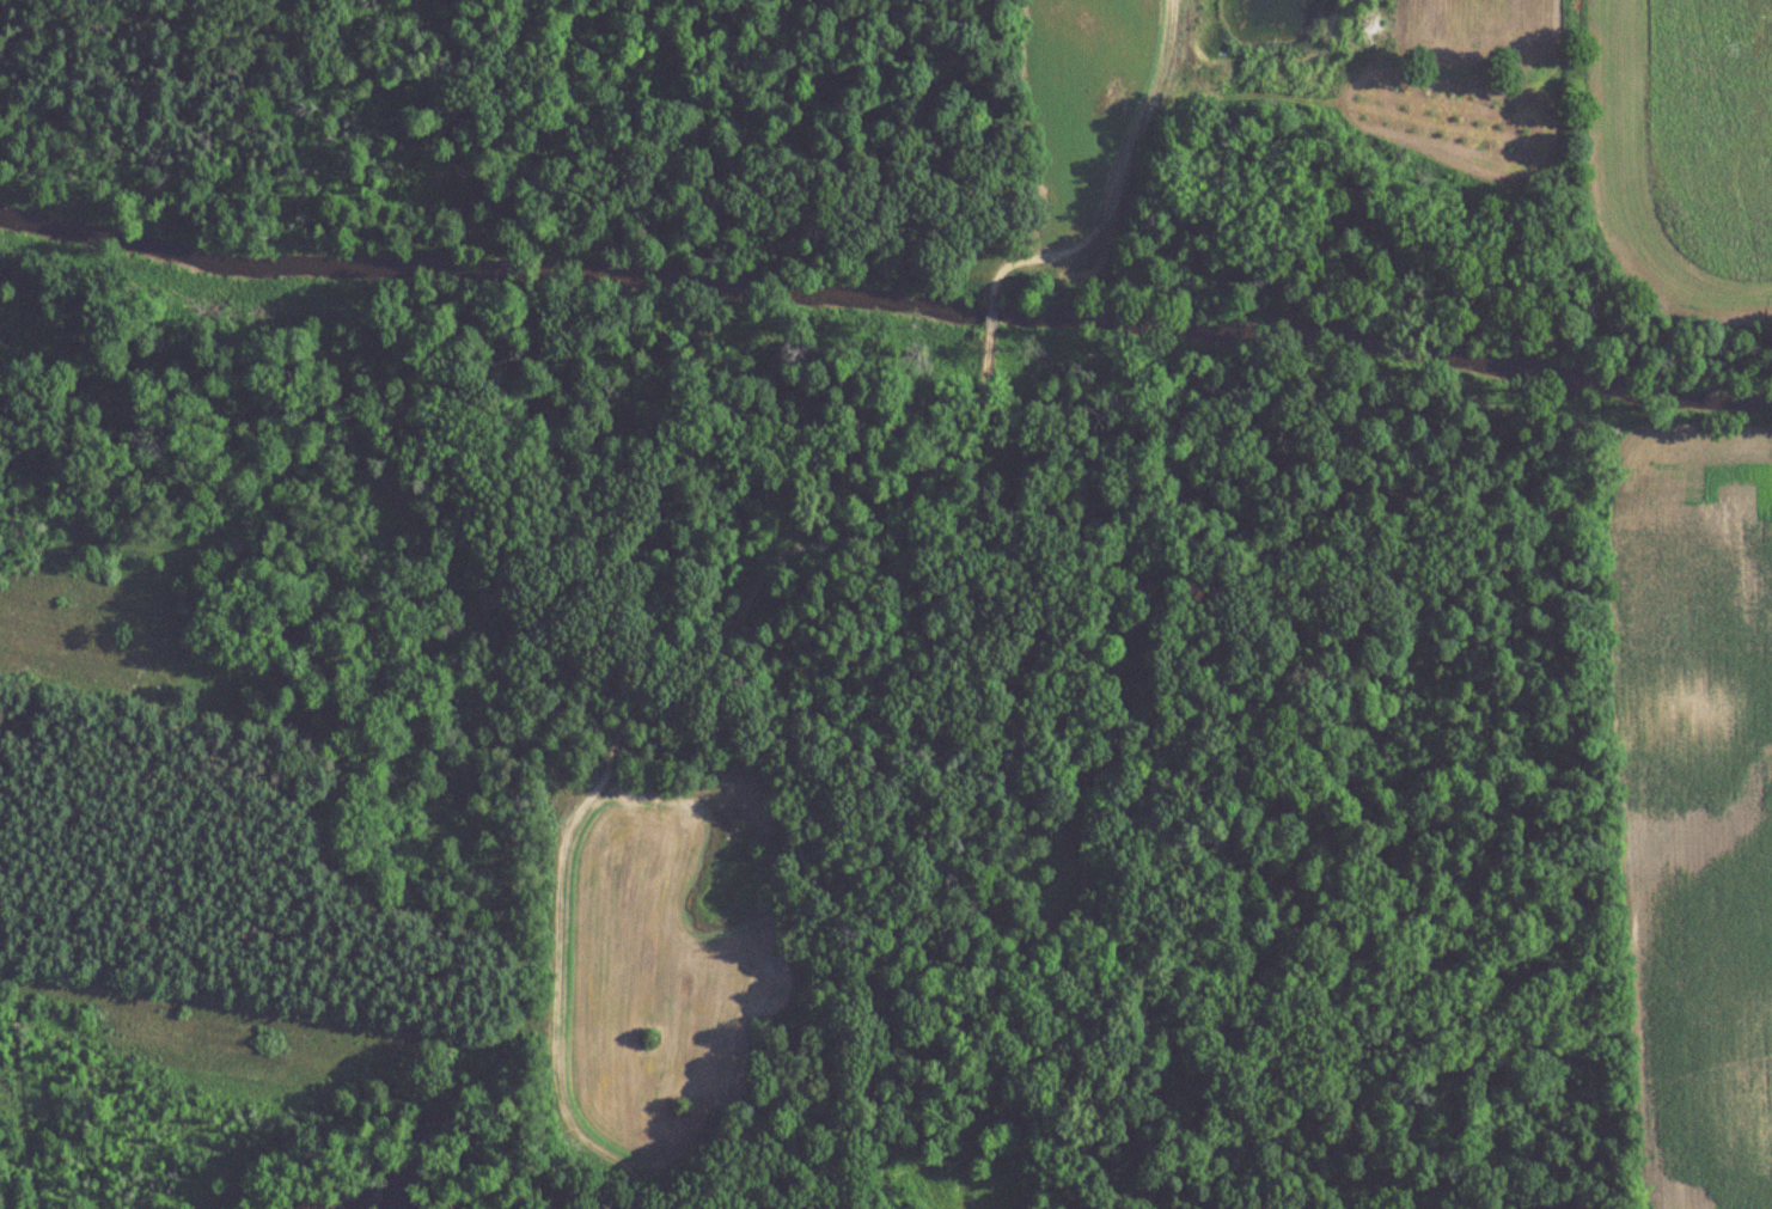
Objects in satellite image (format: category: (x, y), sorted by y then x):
river: (885, 304)
crop: (1698, 799)

